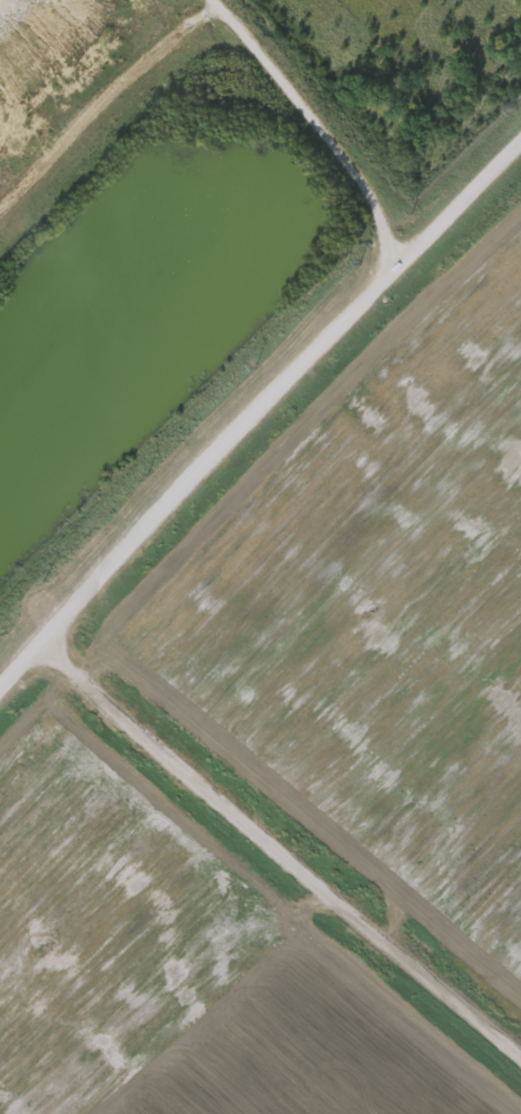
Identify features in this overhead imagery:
road: (324, 118)
road: (257, 414)
wastewater plant: (260, 557)
road: (281, 846)

